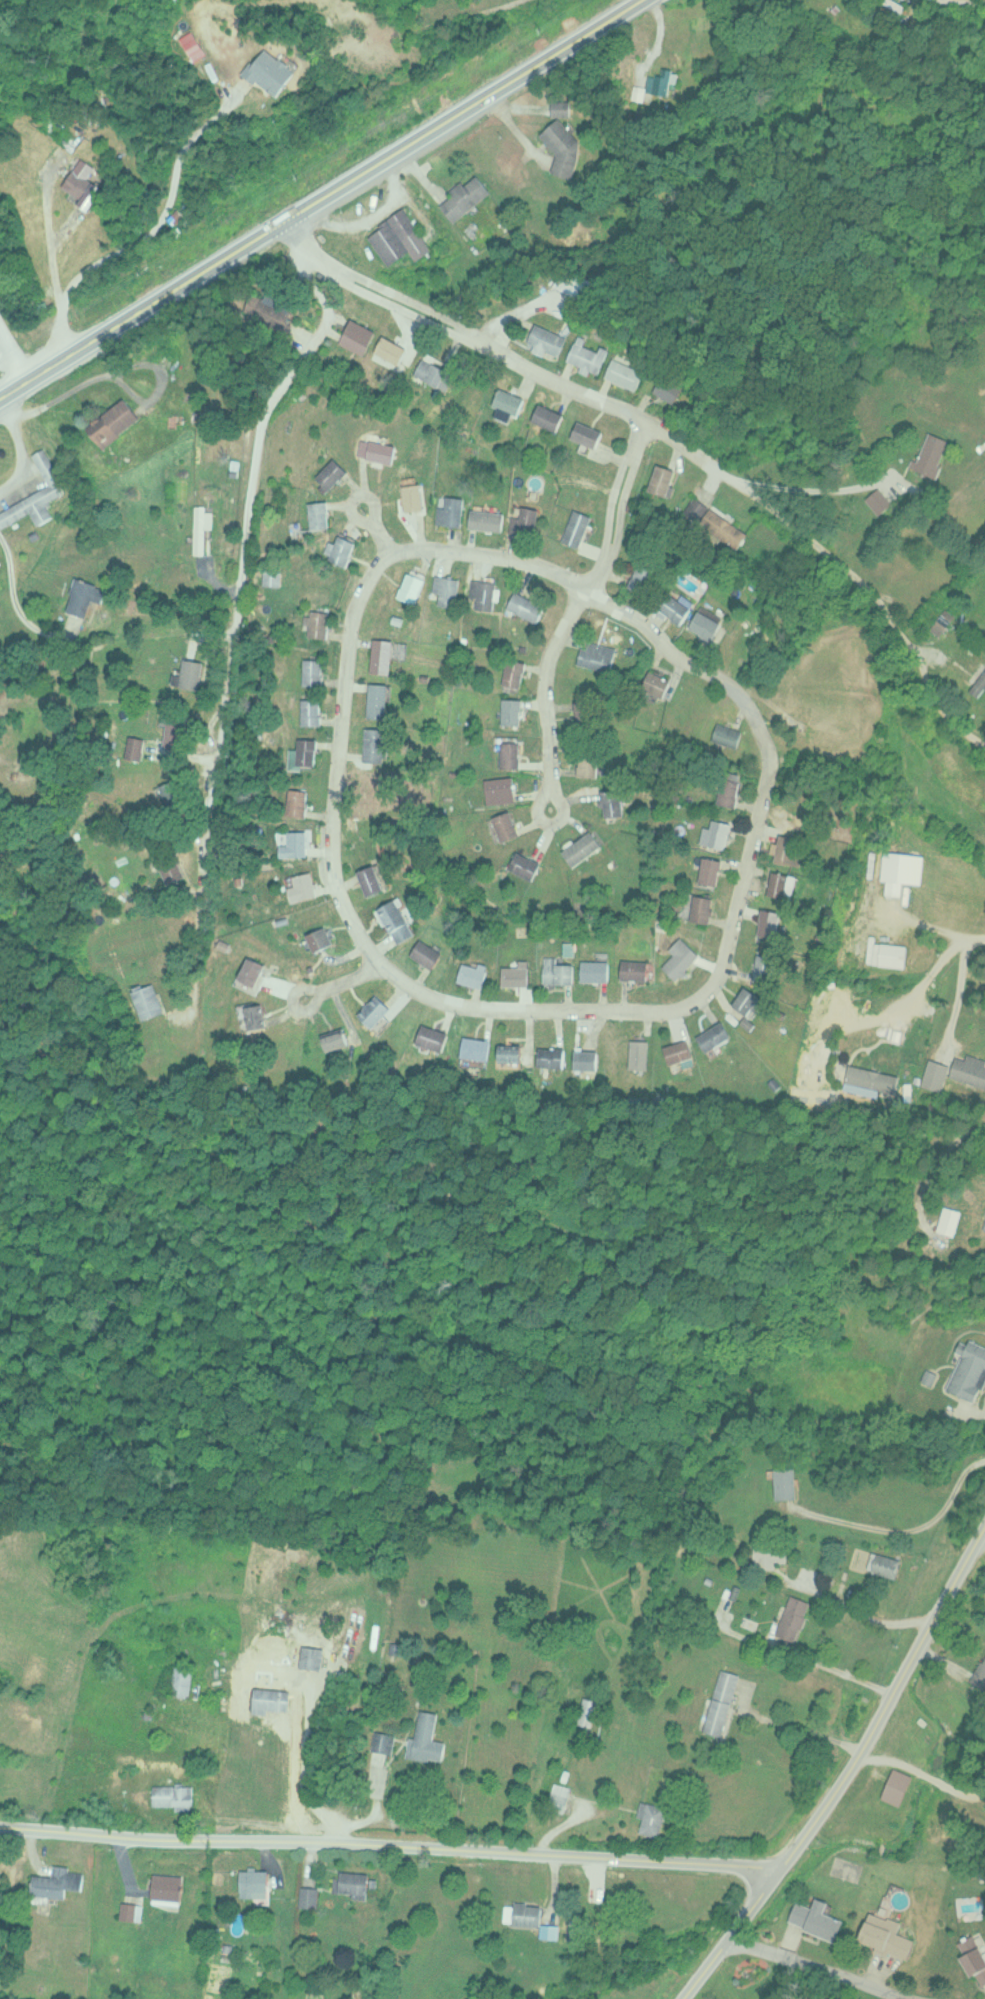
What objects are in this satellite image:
road: (407, 50)
building: (272, 70)
road: (362, 73)
building: (662, 82)
building: (561, 107)
building: (565, 145)
building: (83, 184)
road: (318, 197)
building: (465, 197)
road: (150, 234)
building: (399, 238)
road: (319, 251)
building: (572, 283)
building: (270, 307)
building: (358, 336)
building: (547, 341)
road: (16, 347)
building: (391, 352)
building: (588, 355)
building: (432, 372)
building: (624, 373)
road: (190, 374)
road: (546, 375)
building: (668, 388)
building: (509, 404)
building: (548, 417)
building: (113, 422)
building: (587, 433)
road: (20, 449)
building: (381, 451)
building: (932, 453)
building: (331, 474)
building: (663, 479)
building: (34, 495)
building: (414, 496)
building: (880, 500)
road: (609, 503)
building: (450, 511)
building: (319, 514)
building: (486, 519)
building: (525, 521)
road: (370, 527)
building: (576, 527)
building: (722, 527)
building: (200, 529)
building: (343, 550)
building: (643, 578)
building: (412, 587)
building: (447, 589)
building: (484, 593)
road: (599, 597)
building: (84, 598)
road: (873, 599)
road: (16, 603)
building: (527, 606)
road: (235, 609)
building: (677, 609)
building: (944, 622)
building: (319, 623)
building: (709, 624)
building: (382, 655)
building: (598, 656)
building: (313, 672)
building: (191, 674)
building: (514, 674)
building: (657, 684)
building: (980, 686)
road: (542, 691)
building: (379, 700)
building: (312, 711)
building: (583, 711)
building: (512, 712)
building: (726, 735)
building: (375, 745)
building: (134, 748)
building: (305, 753)
building: (511, 755)
building: (588, 765)
building: (499, 790)
building: (730, 792)
building: (299, 803)
building: (614, 803)
building: (506, 826)
building: (716, 834)
building: (298, 845)
building: (582, 849)
building: (790, 850)
building: (525, 865)
building: (169, 869)
building: (710, 872)
building: (373, 881)
building: (781, 886)
building: (304, 888)
building: (703, 909)
building: (398, 921)
building: (771, 923)
road: (956, 935)
building: (322, 939)
road: (956, 950)
building: (428, 954)
building: (890, 954)
building: (681, 958)
road: (984, 958)
building: (766, 968)
building: (634, 970)
building: (596, 971)
building: (254, 972)
building: (558, 972)
building: (475, 974)
building: (519, 974)
road: (340, 976)
building: (750, 1000)
building: (148, 1001)
building: (375, 1011)
building: (253, 1017)
building: (716, 1036)
building: (433, 1038)
building: (337, 1040)
building: (477, 1049)
building: (680, 1051)
building: (639, 1054)
building: (513, 1055)
building: (552, 1057)
building: (587, 1060)
building: (968, 1071)
building: (869, 1073)
building: (950, 1221)
building: (969, 1372)
building: (786, 1484)
road: (978, 1544)
building: (769, 1554)
building: (885, 1564)
building: (792, 1619)
building: (312, 1656)
building: (979, 1675)
building: (183, 1680)
building: (271, 1698)
building: (721, 1702)
building: (588, 1711)
road: (866, 1733)
building: (426, 1738)
building: (382, 1740)
road: (919, 1775)
building: (173, 1795)
building: (559, 1795)
building: (653, 1817)
road: (389, 1843)
building: (57, 1882)
building: (352, 1882)
building: (255, 1883)
building: (168, 1887)
building: (309, 1896)
building: (528, 1913)
building: (817, 1918)
building: (886, 1937)
building: (974, 1957)
road: (821, 1966)
road: (703, 1968)

